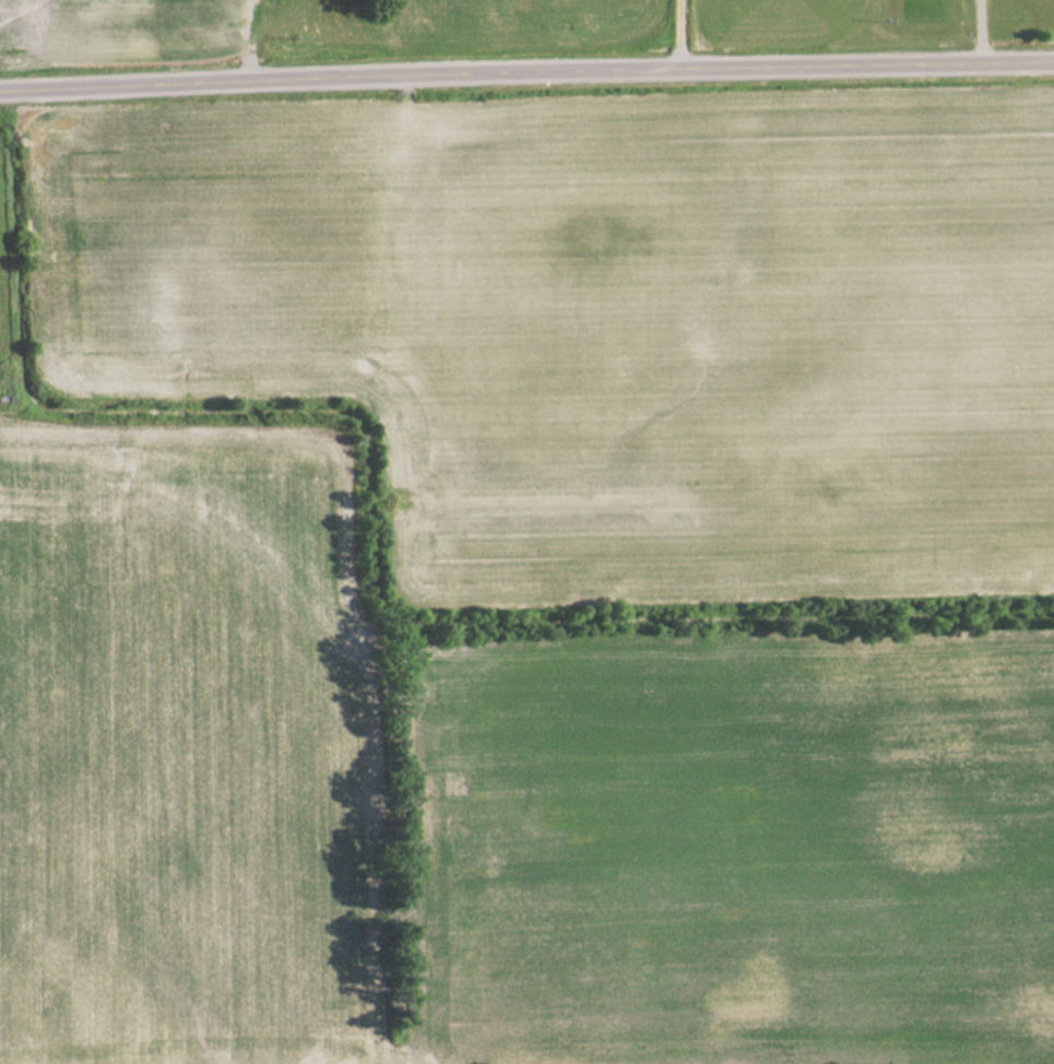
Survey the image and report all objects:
road: (526, 78)

